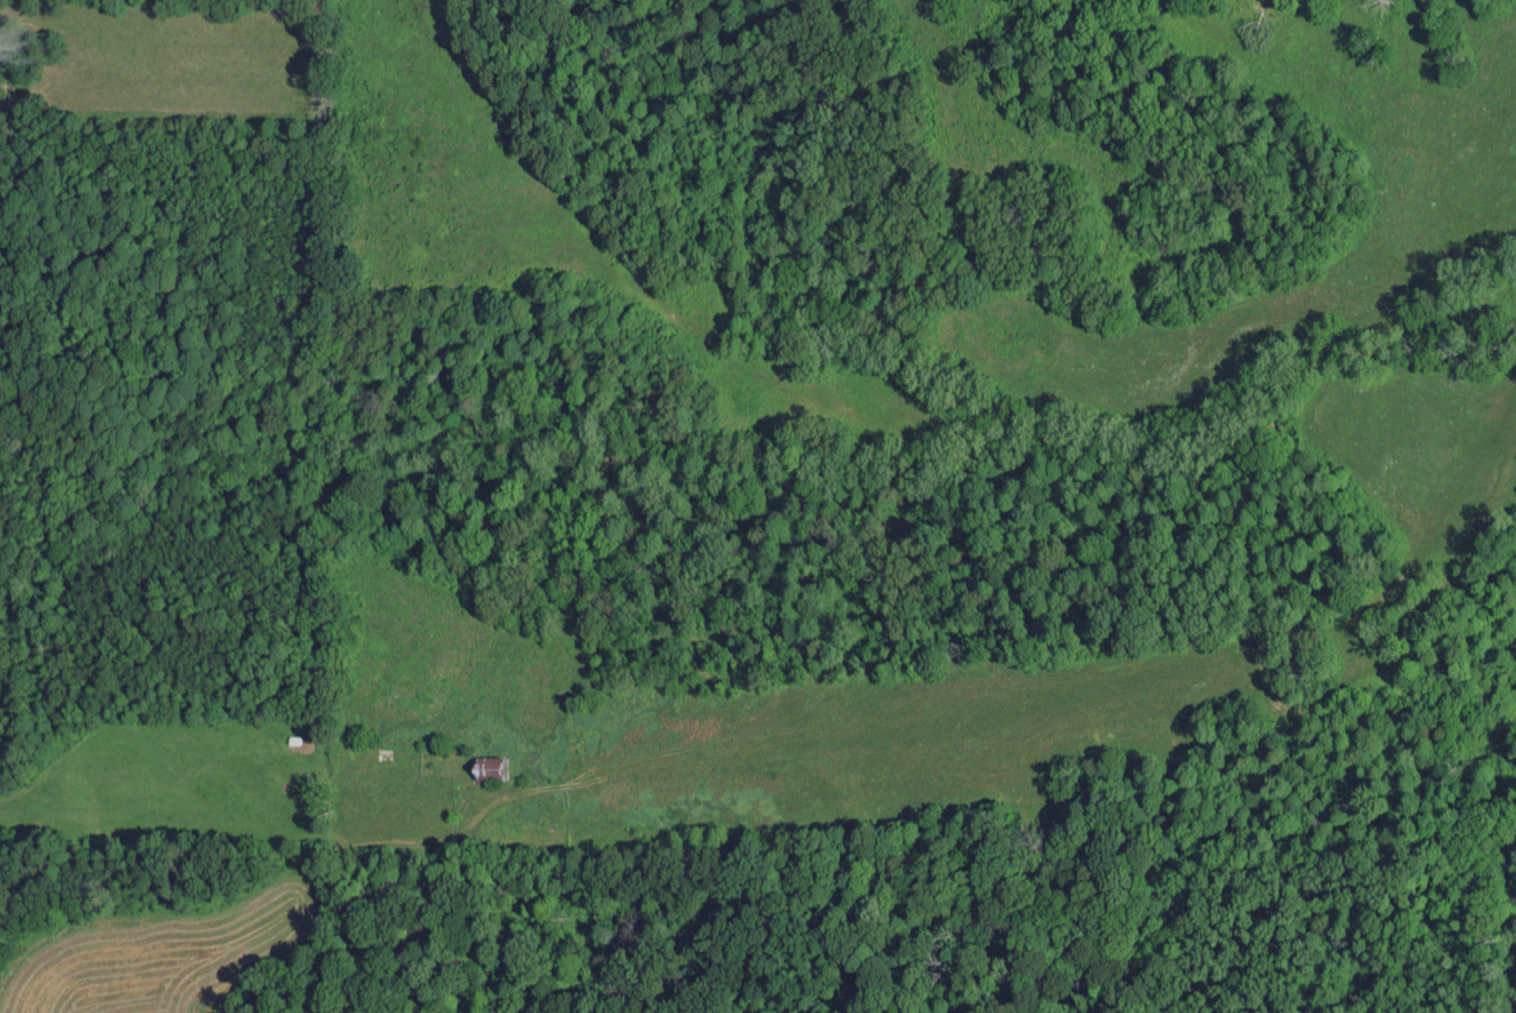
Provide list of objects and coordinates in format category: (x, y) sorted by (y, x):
building: (349, 798)
building: (427, 802)
road: (200, 867)

